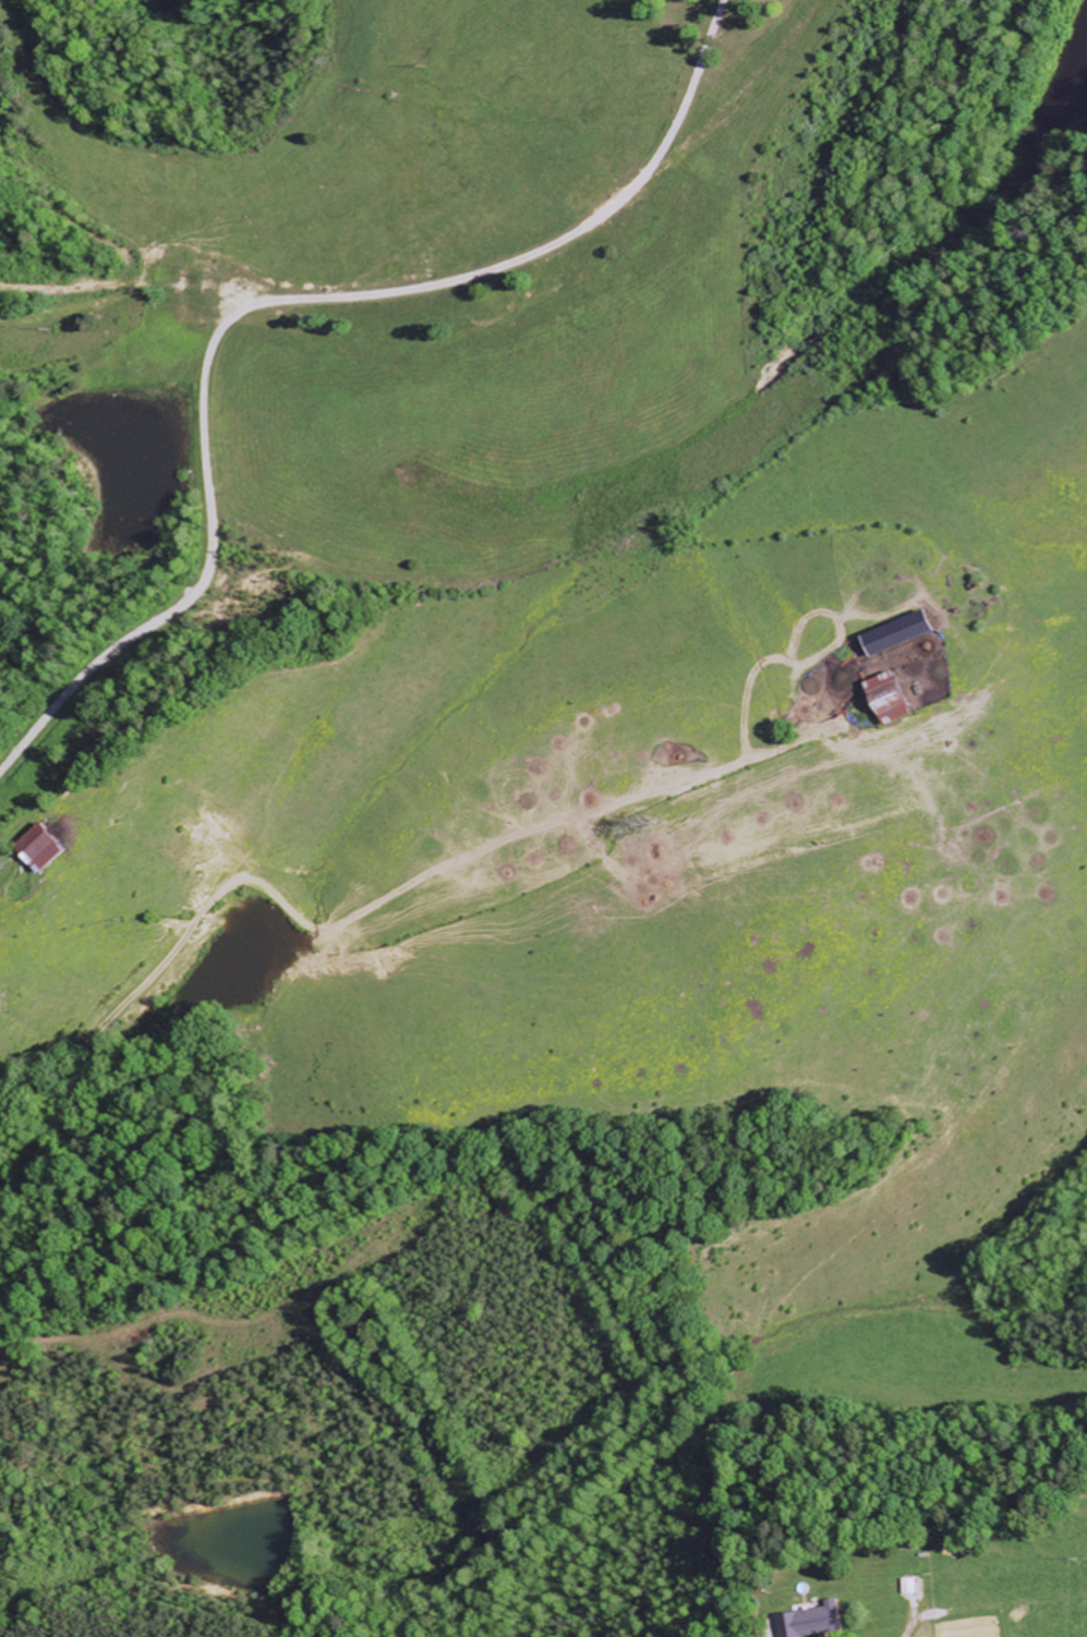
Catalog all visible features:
building: (896, 634)
building: (884, 699)
building: (52, 848)
building: (908, 1587)
building: (808, 1622)

